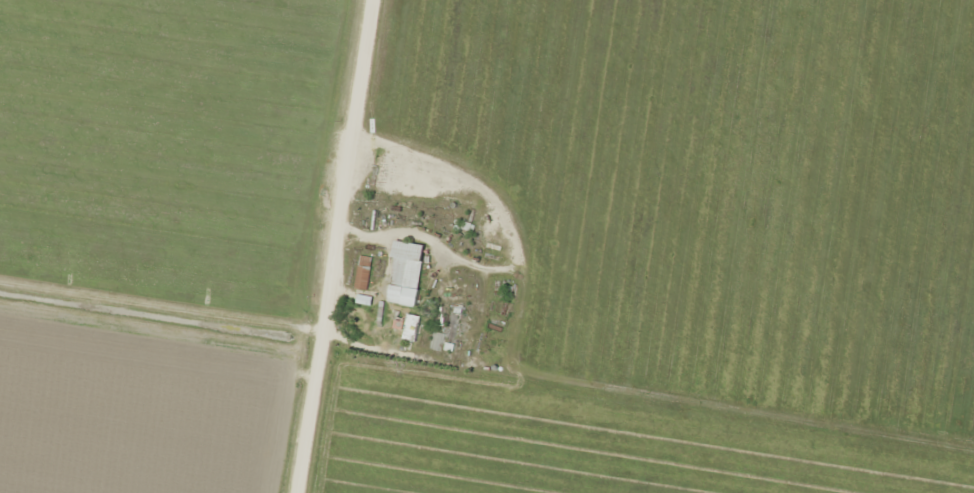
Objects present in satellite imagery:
road: (346, 246)
building: (361, 272)
building: (403, 273)
building: (409, 326)

